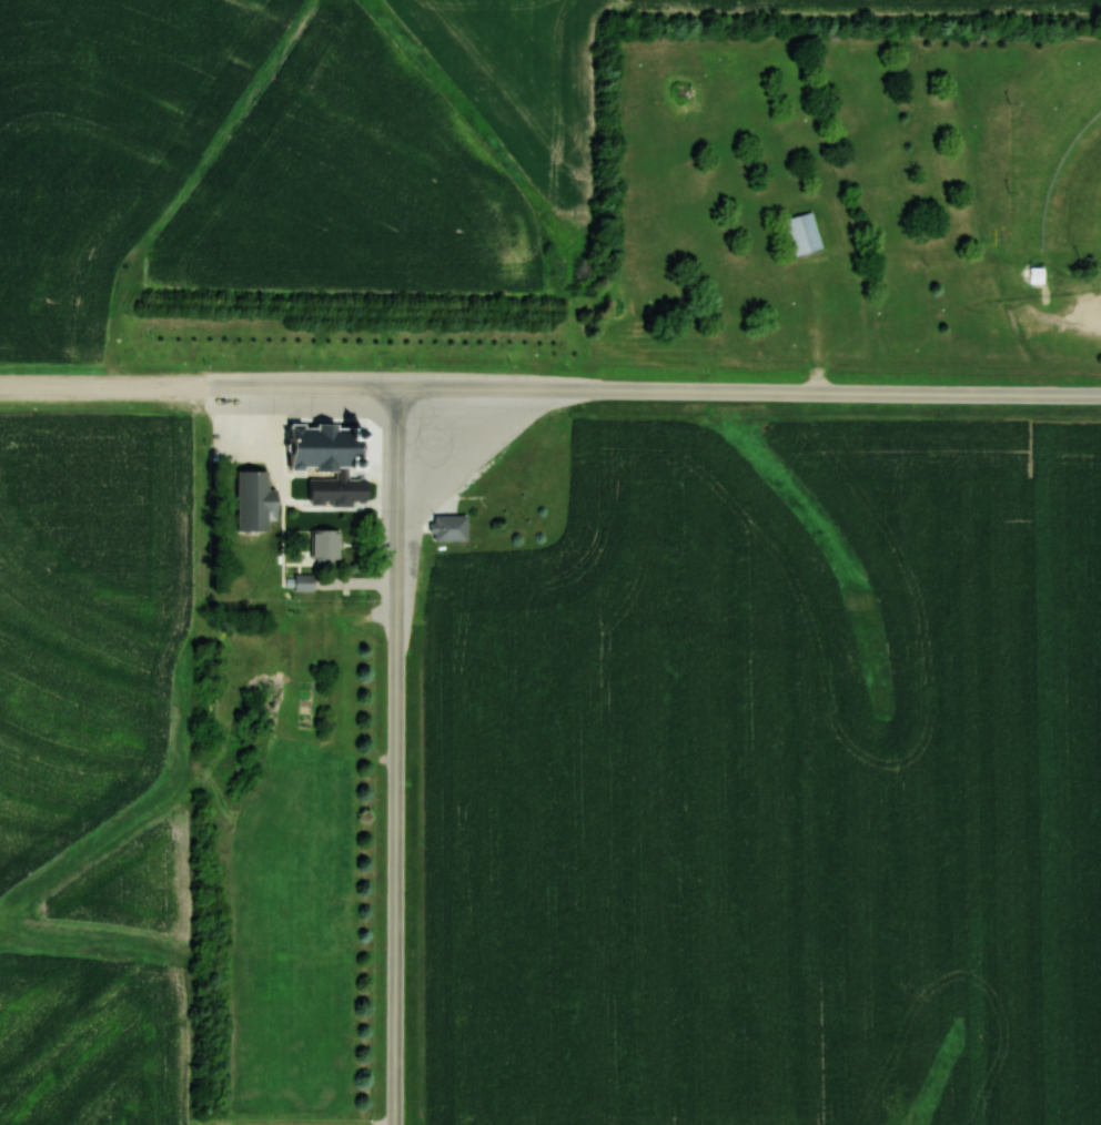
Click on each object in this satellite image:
building: (802, 234)
road: (100, 386)
road: (650, 389)
building: (324, 446)
building: (253, 500)
building: (450, 527)
building: (324, 544)
building: (303, 581)
road: (397, 756)
park: (273, 1121)

